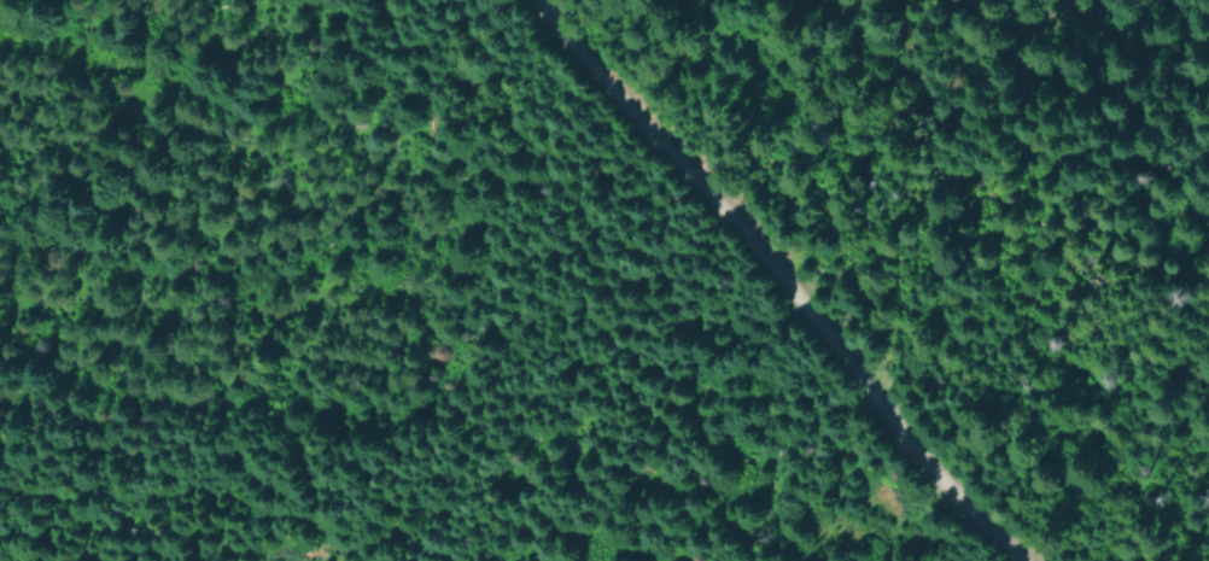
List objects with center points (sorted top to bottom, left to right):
road: (777, 274)

